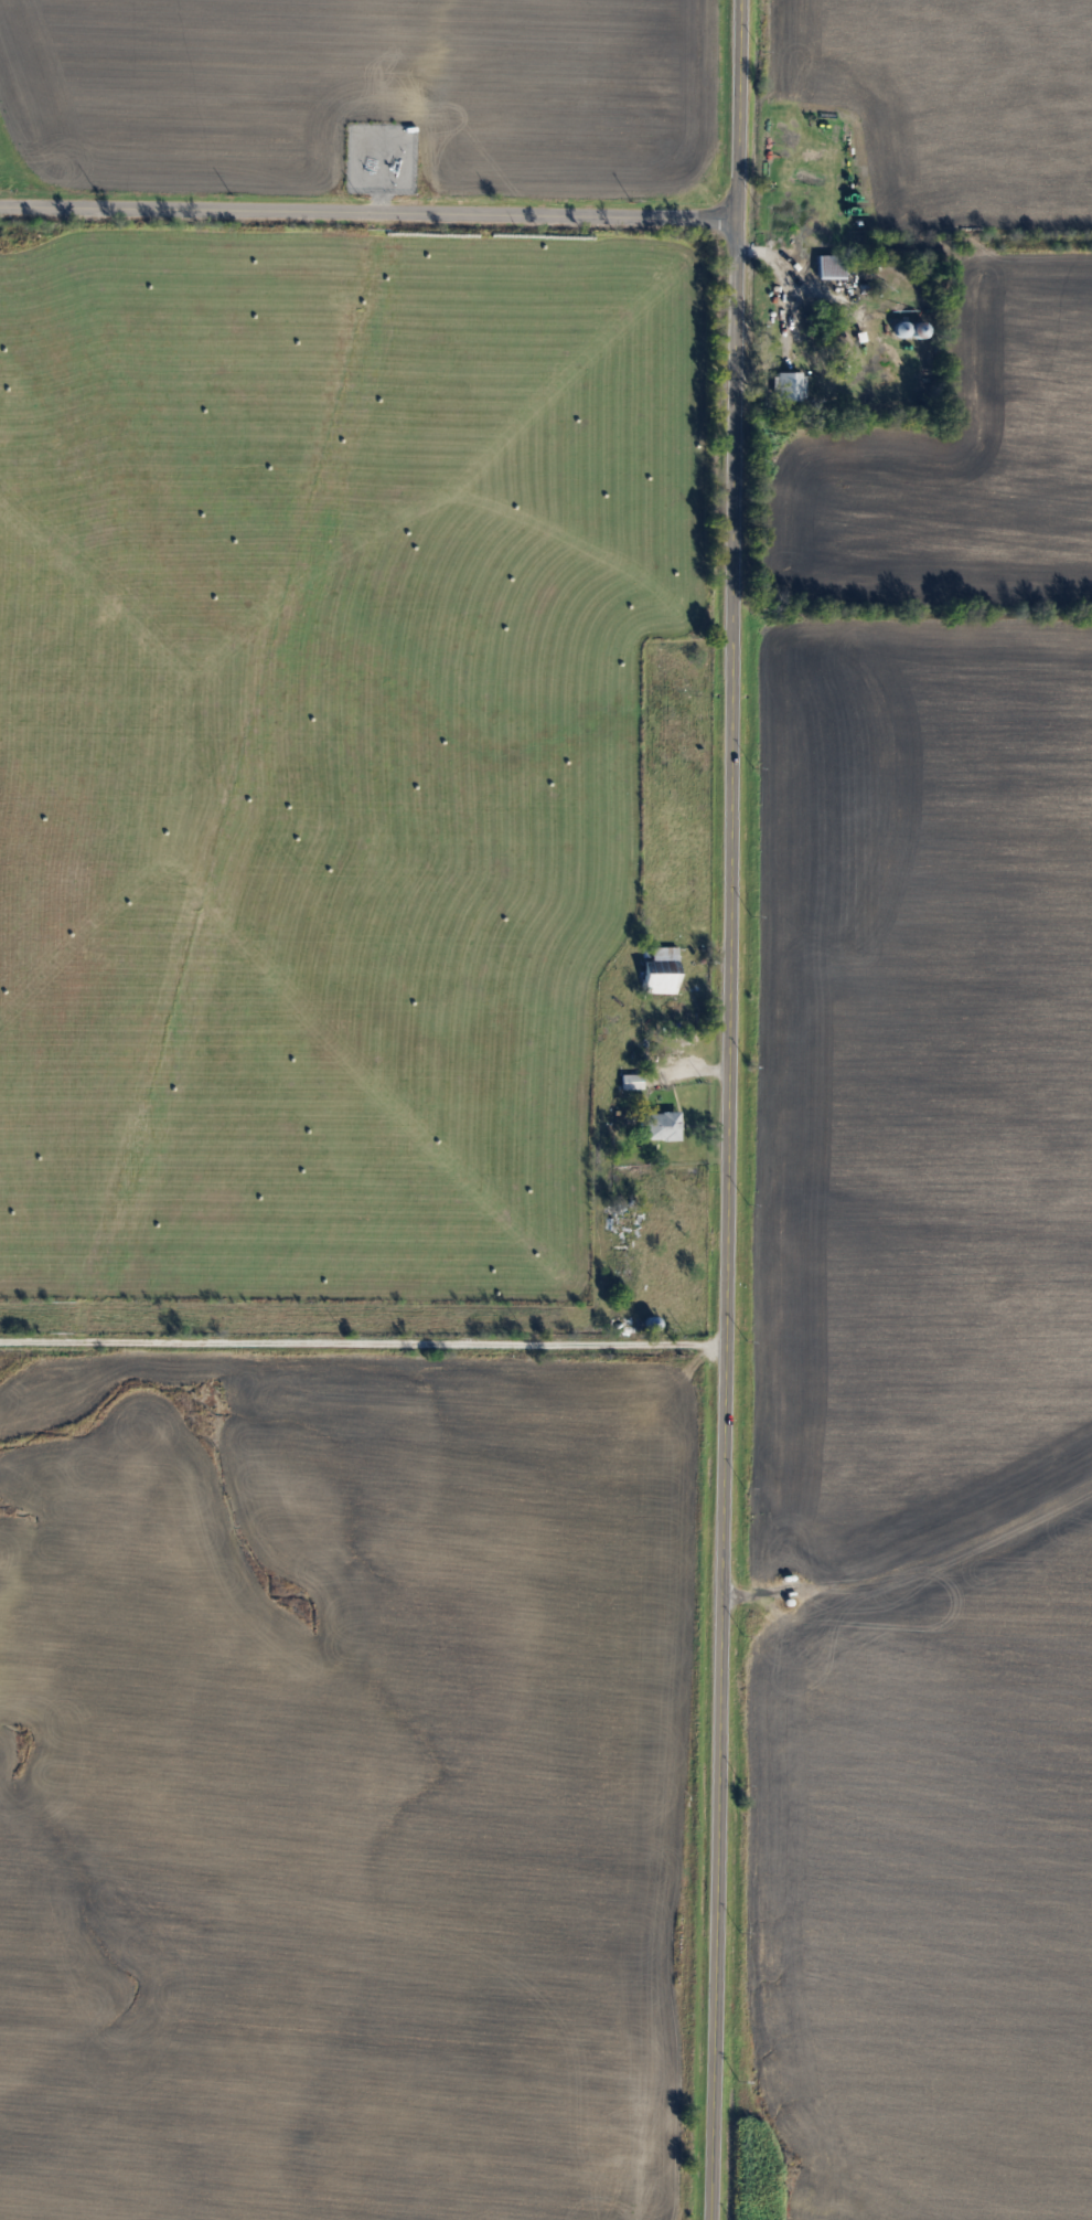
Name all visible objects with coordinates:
road: (345, 215)
road: (713, 217)
building: (828, 267)
building: (916, 330)
building: (786, 385)
building: (657, 970)
building: (630, 1081)
road: (727, 1109)
building: (659, 1125)
building: (618, 1261)
road: (360, 1341)

